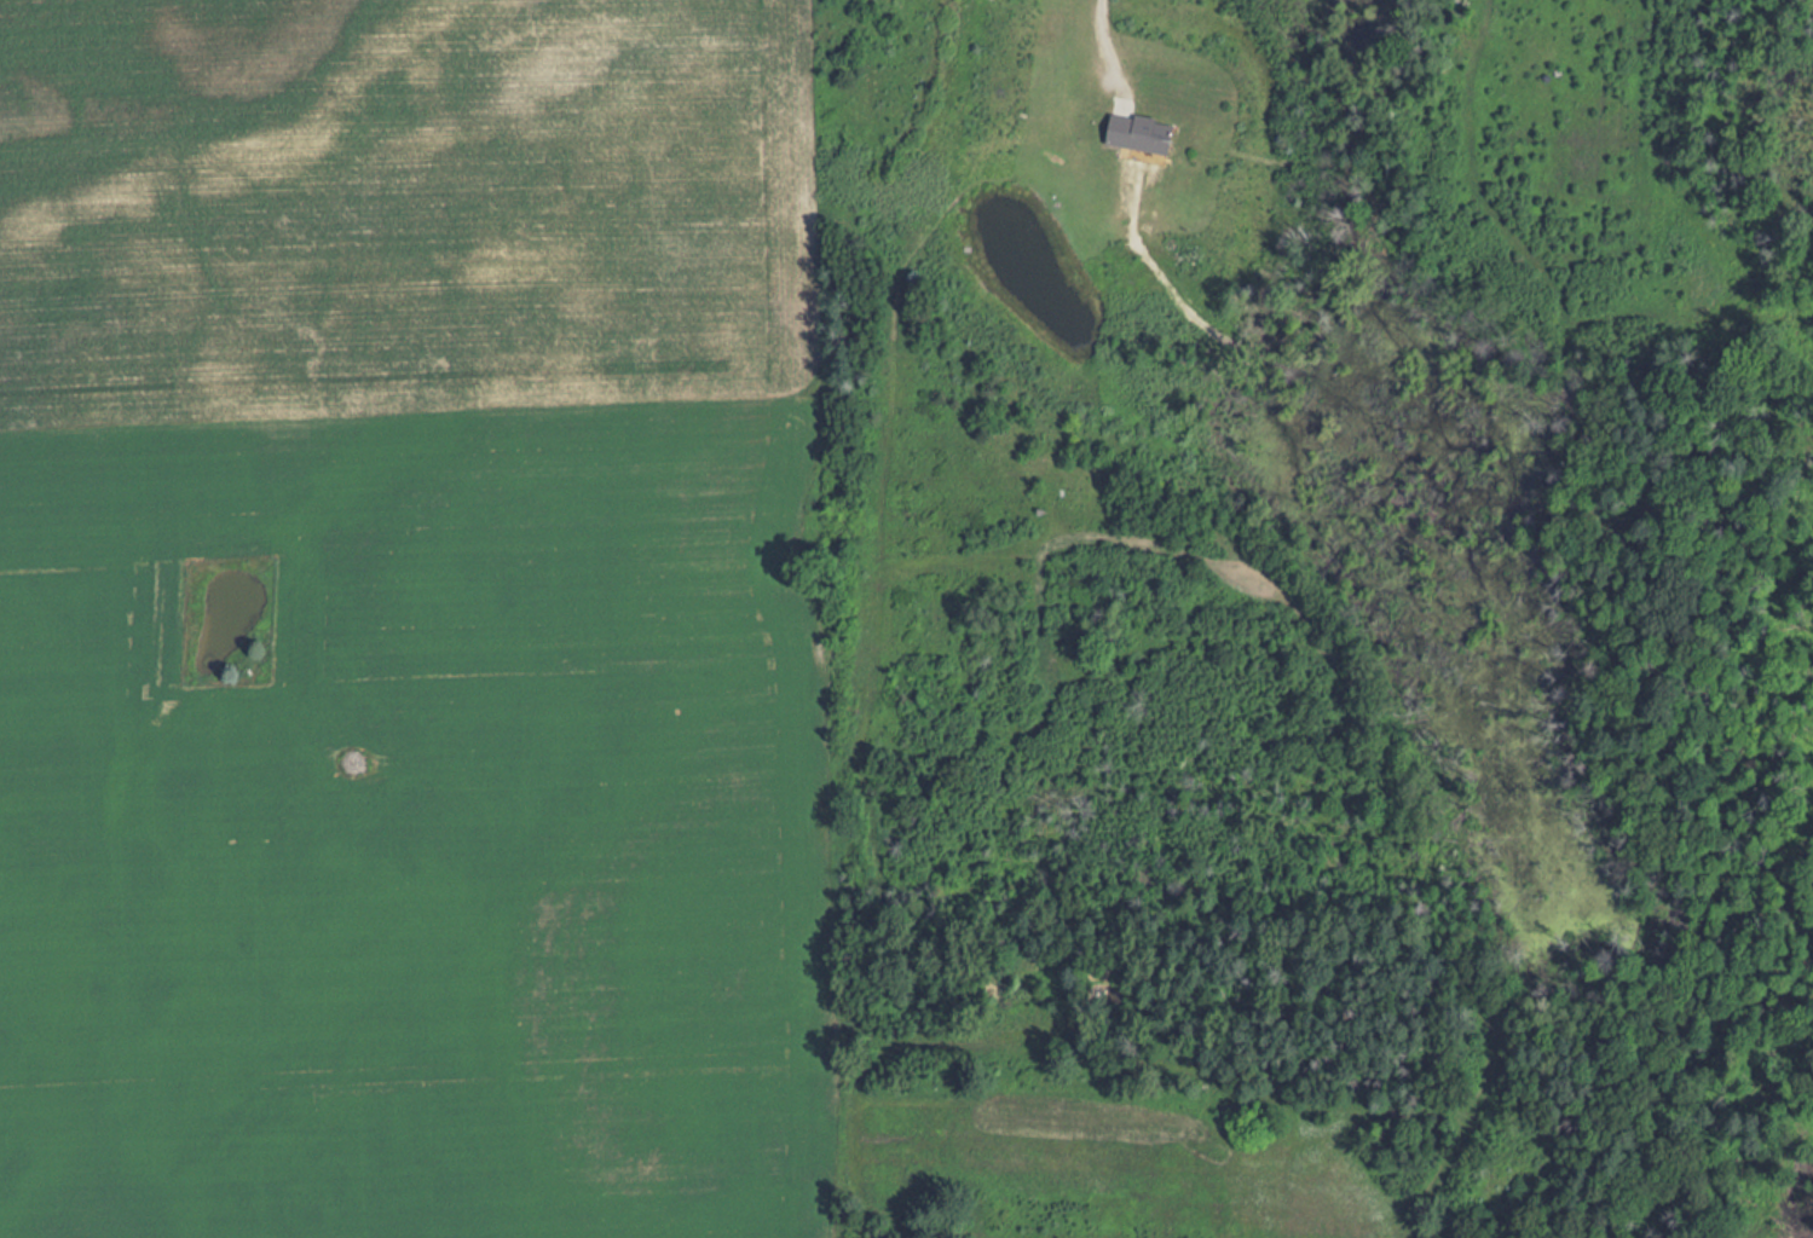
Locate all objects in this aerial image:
building: (1149, 133)

